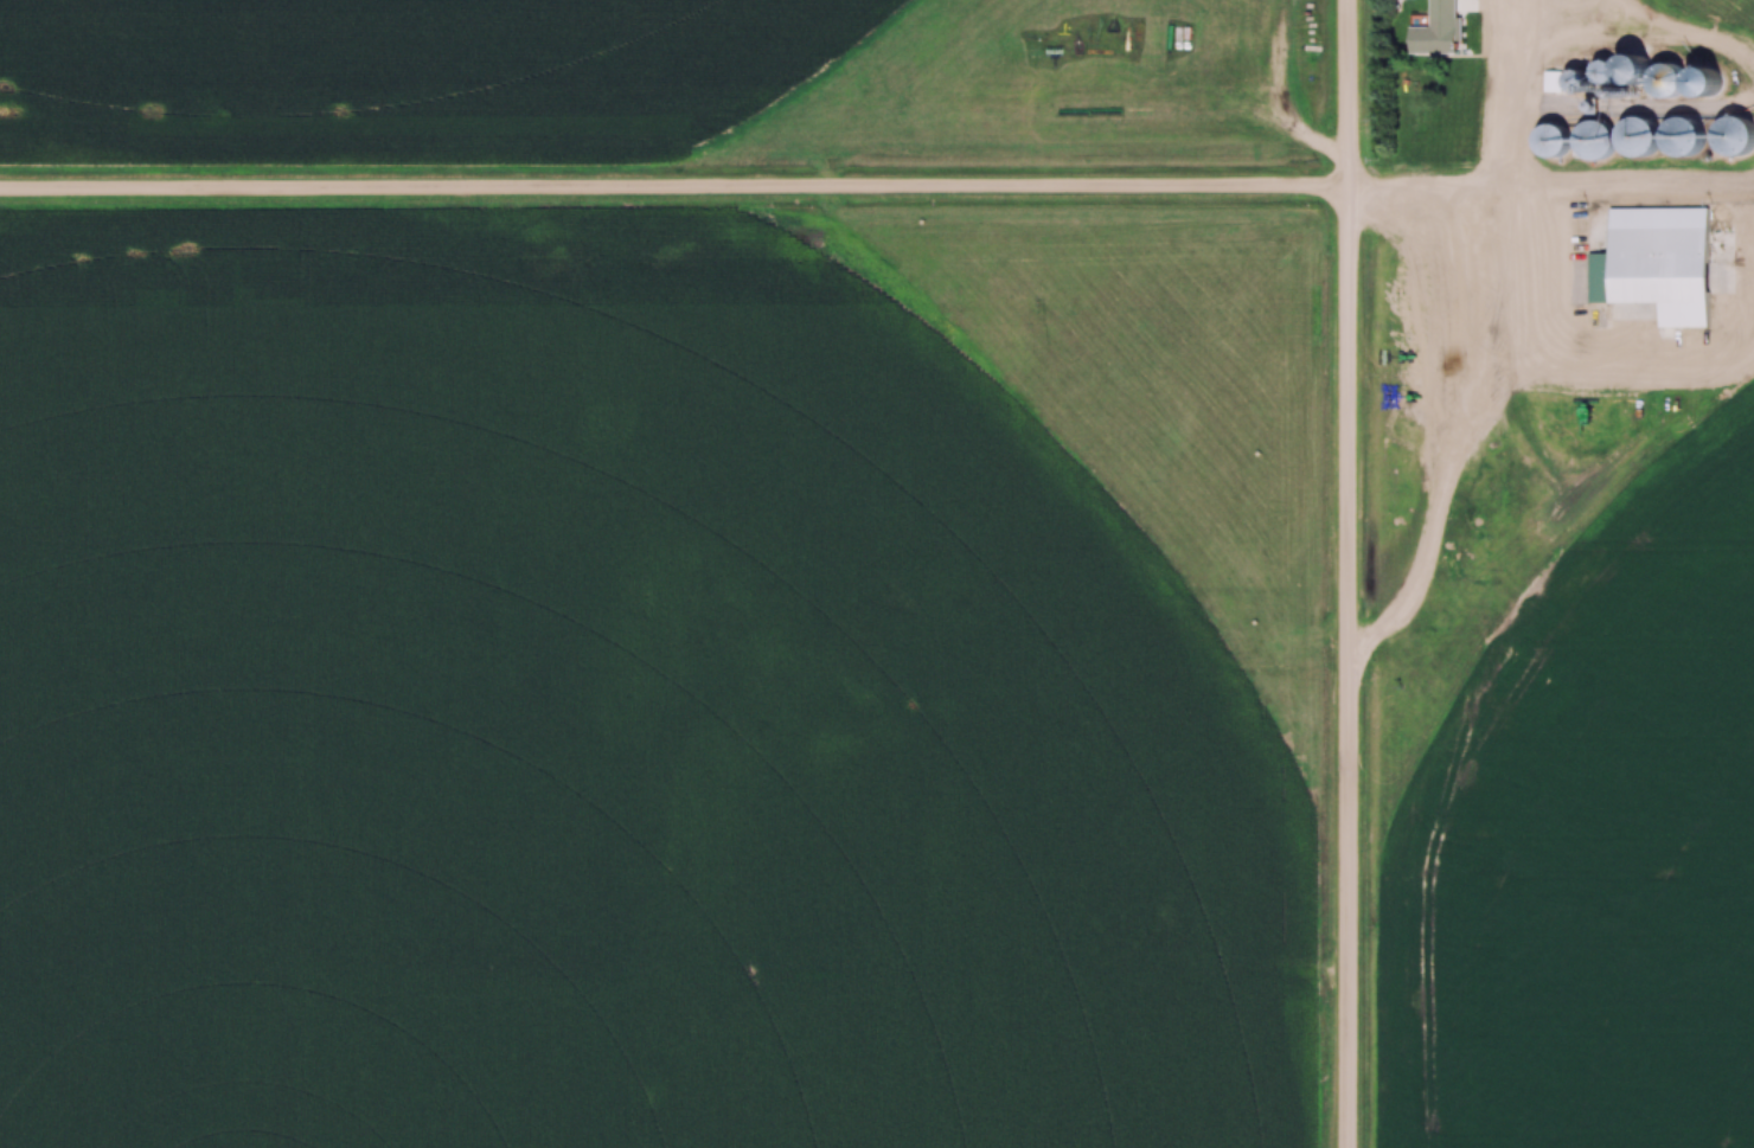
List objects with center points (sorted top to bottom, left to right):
building: (1439, 38)
road: (1682, 53)
building: (1620, 72)
building: (1666, 82)
building: (1567, 84)
building: (1641, 137)
building: (1736, 137)
building: (1684, 140)
building: (1595, 141)
building: (1554, 143)
road: (877, 188)
building: (1664, 274)
road: (1350, 573)
building: (888, 592)
building: (845, 682)
building: (781, 731)
building: (1171, 925)
building: (1090, 949)
road: (1236, 976)

